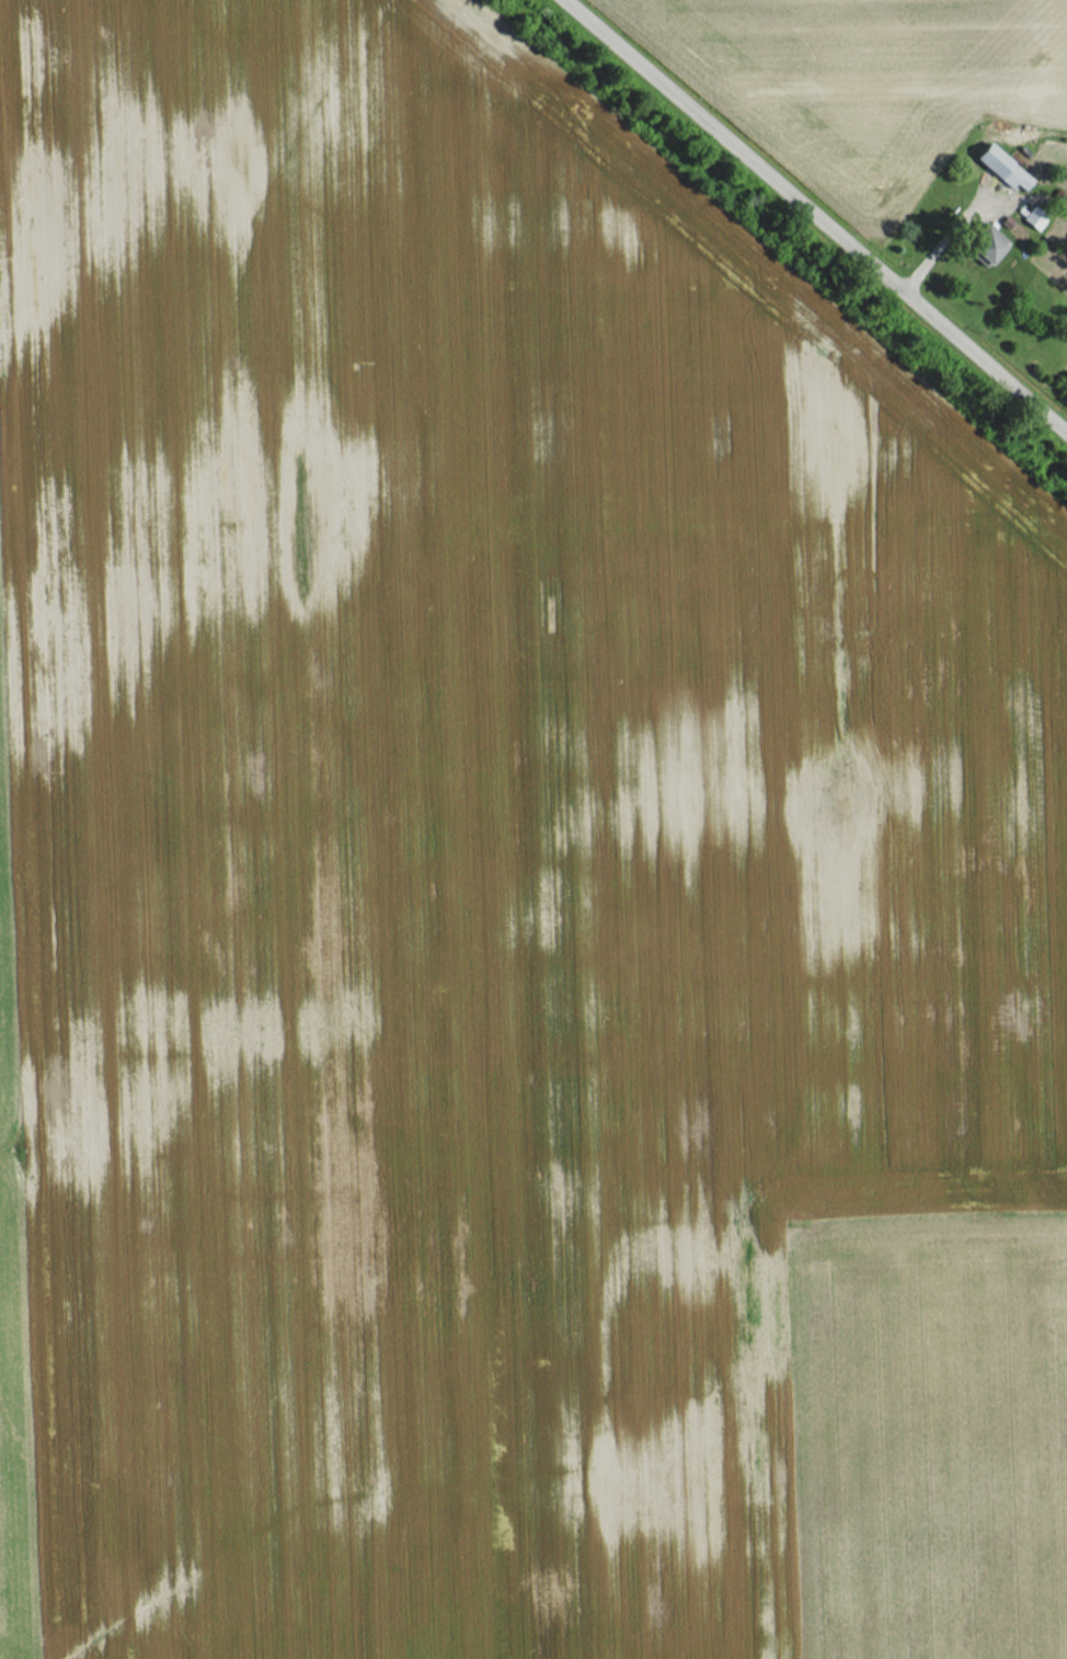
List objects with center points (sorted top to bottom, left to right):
crop: (871, 78)
building: (1003, 168)
road: (816, 215)
road: (944, 238)
building: (989, 251)
railway: (777, 253)
crop: (471, 846)
crop: (10, 963)
crop: (921, 1430)

